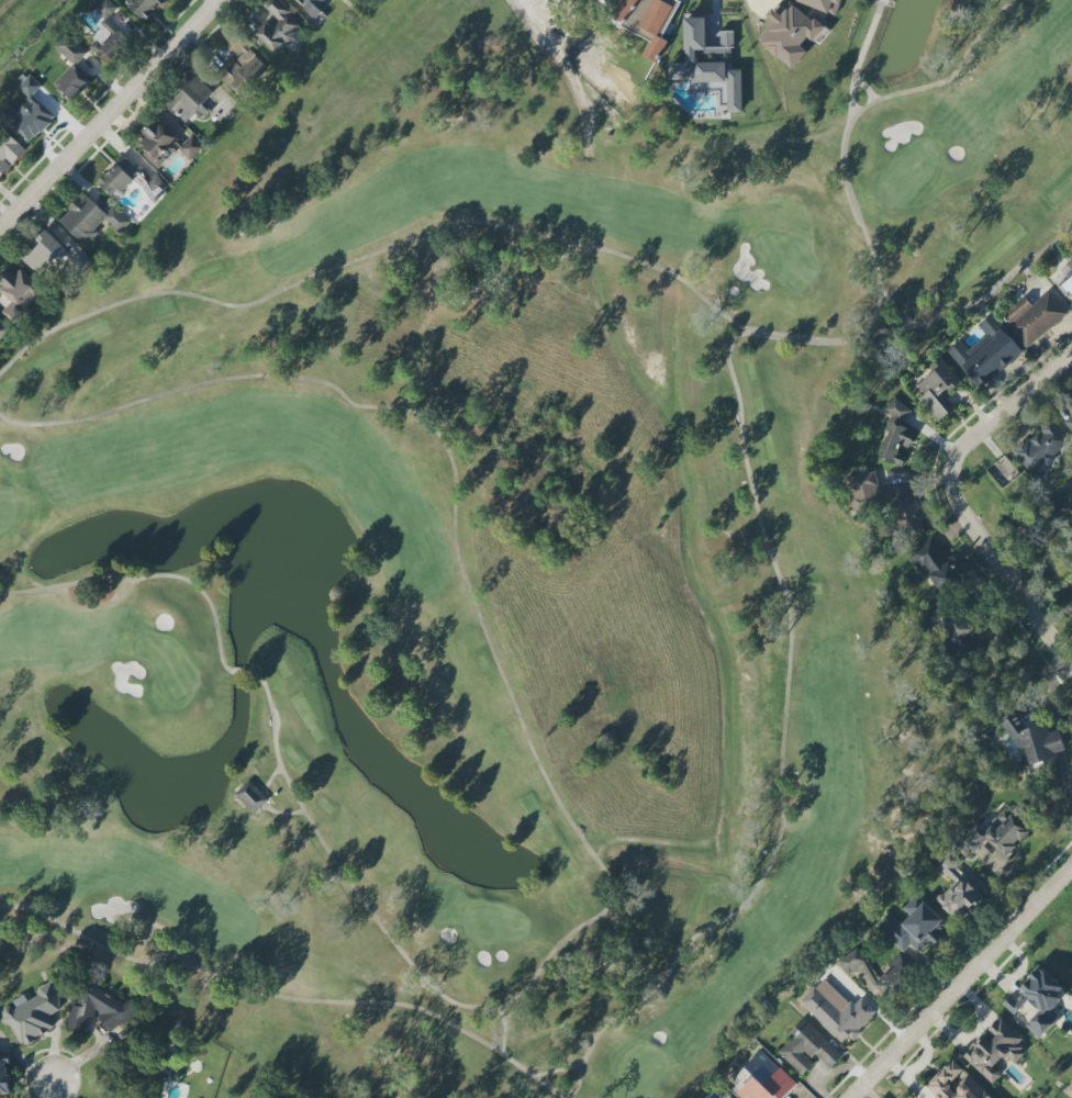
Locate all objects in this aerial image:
building: (824, 4)
building: (144, 7)
building: (313, 7)
building: (644, 20)
building: (278, 26)
building: (107, 30)
building: (791, 34)
building: (70, 48)
road: (862, 51)
building: (242, 66)
building: (710, 66)
road: (960, 69)
building: (71, 83)
building: (29, 87)
building: (191, 99)
road: (850, 110)
road: (110, 113)
building: (29, 117)
road: (855, 124)
building: (166, 145)
building: (8, 152)
building: (119, 176)
building: (90, 220)
road: (871, 243)
building: (55, 257)
building: (1068, 279)
building: (19, 293)
road: (920, 318)
building: (1036, 318)
building: (2, 328)
building: (986, 352)
building: (938, 389)
building: (897, 410)
building: (1069, 422)
building: (896, 445)
building: (1042, 447)
building: (1003, 470)
building: (887, 501)
road: (956, 503)
park: (492, 547)
building: (934, 564)
road: (147, 574)
building: (957, 634)
road: (794, 643)
road: (502, 663)
road: (247, 675)
road: (270, 726)
building: (1031, 744)
road: (271, 776)
road: (292, 787)
building: (256, 796)
road: (286, 813)
building: (995, 836)
building: (957, 888)
building: (914, 926)
building: (897, 970)
road: (961, 983)
building: (1038, 1001)
building: (836, 1011)
building: (34, 1015)
building: (807, 1047)
building: (994, 1050)
building: (4, 1071)
building: (763, 1080)
building: (956, 1084)
road: (49, 1089)

